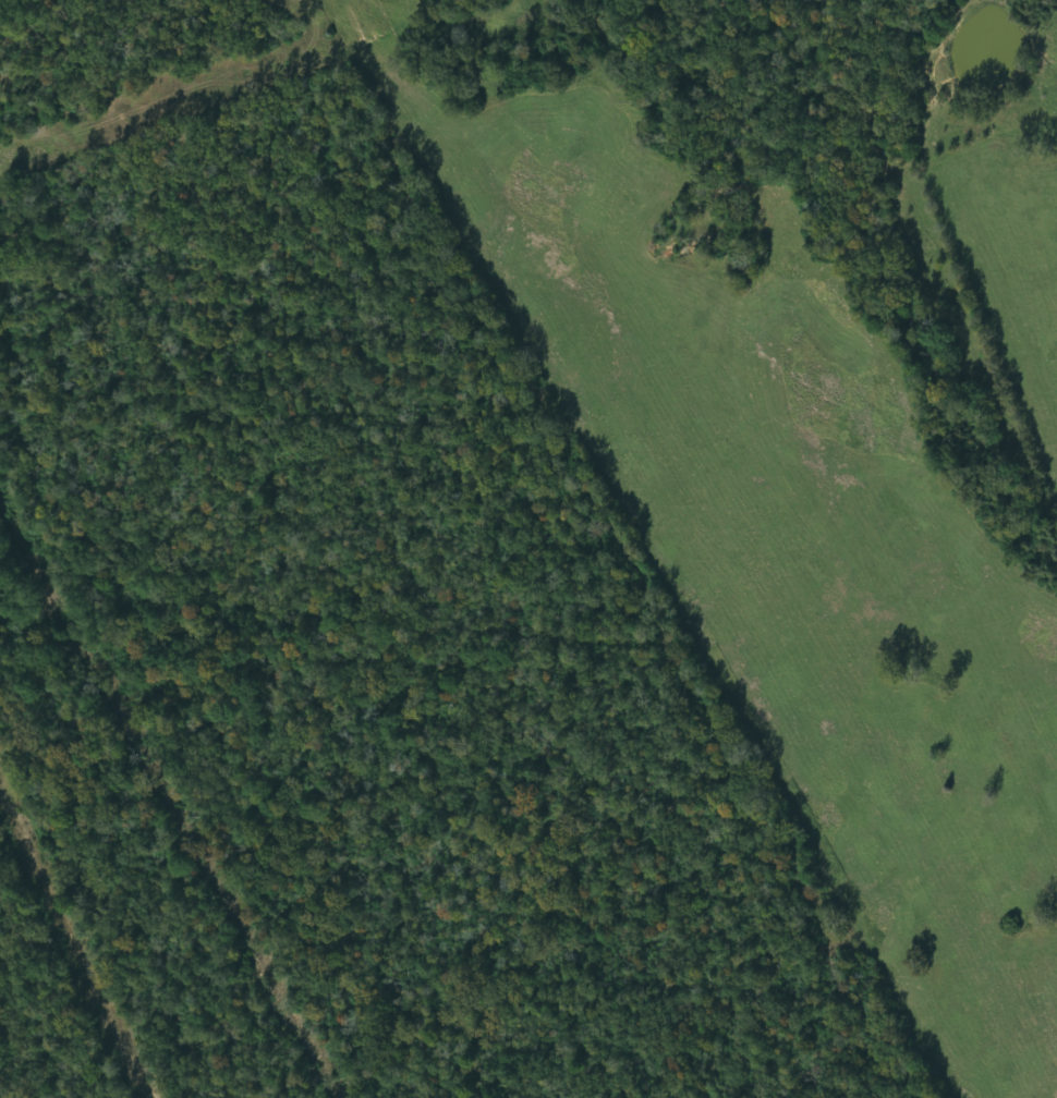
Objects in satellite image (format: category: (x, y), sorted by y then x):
road: (88, 902)

